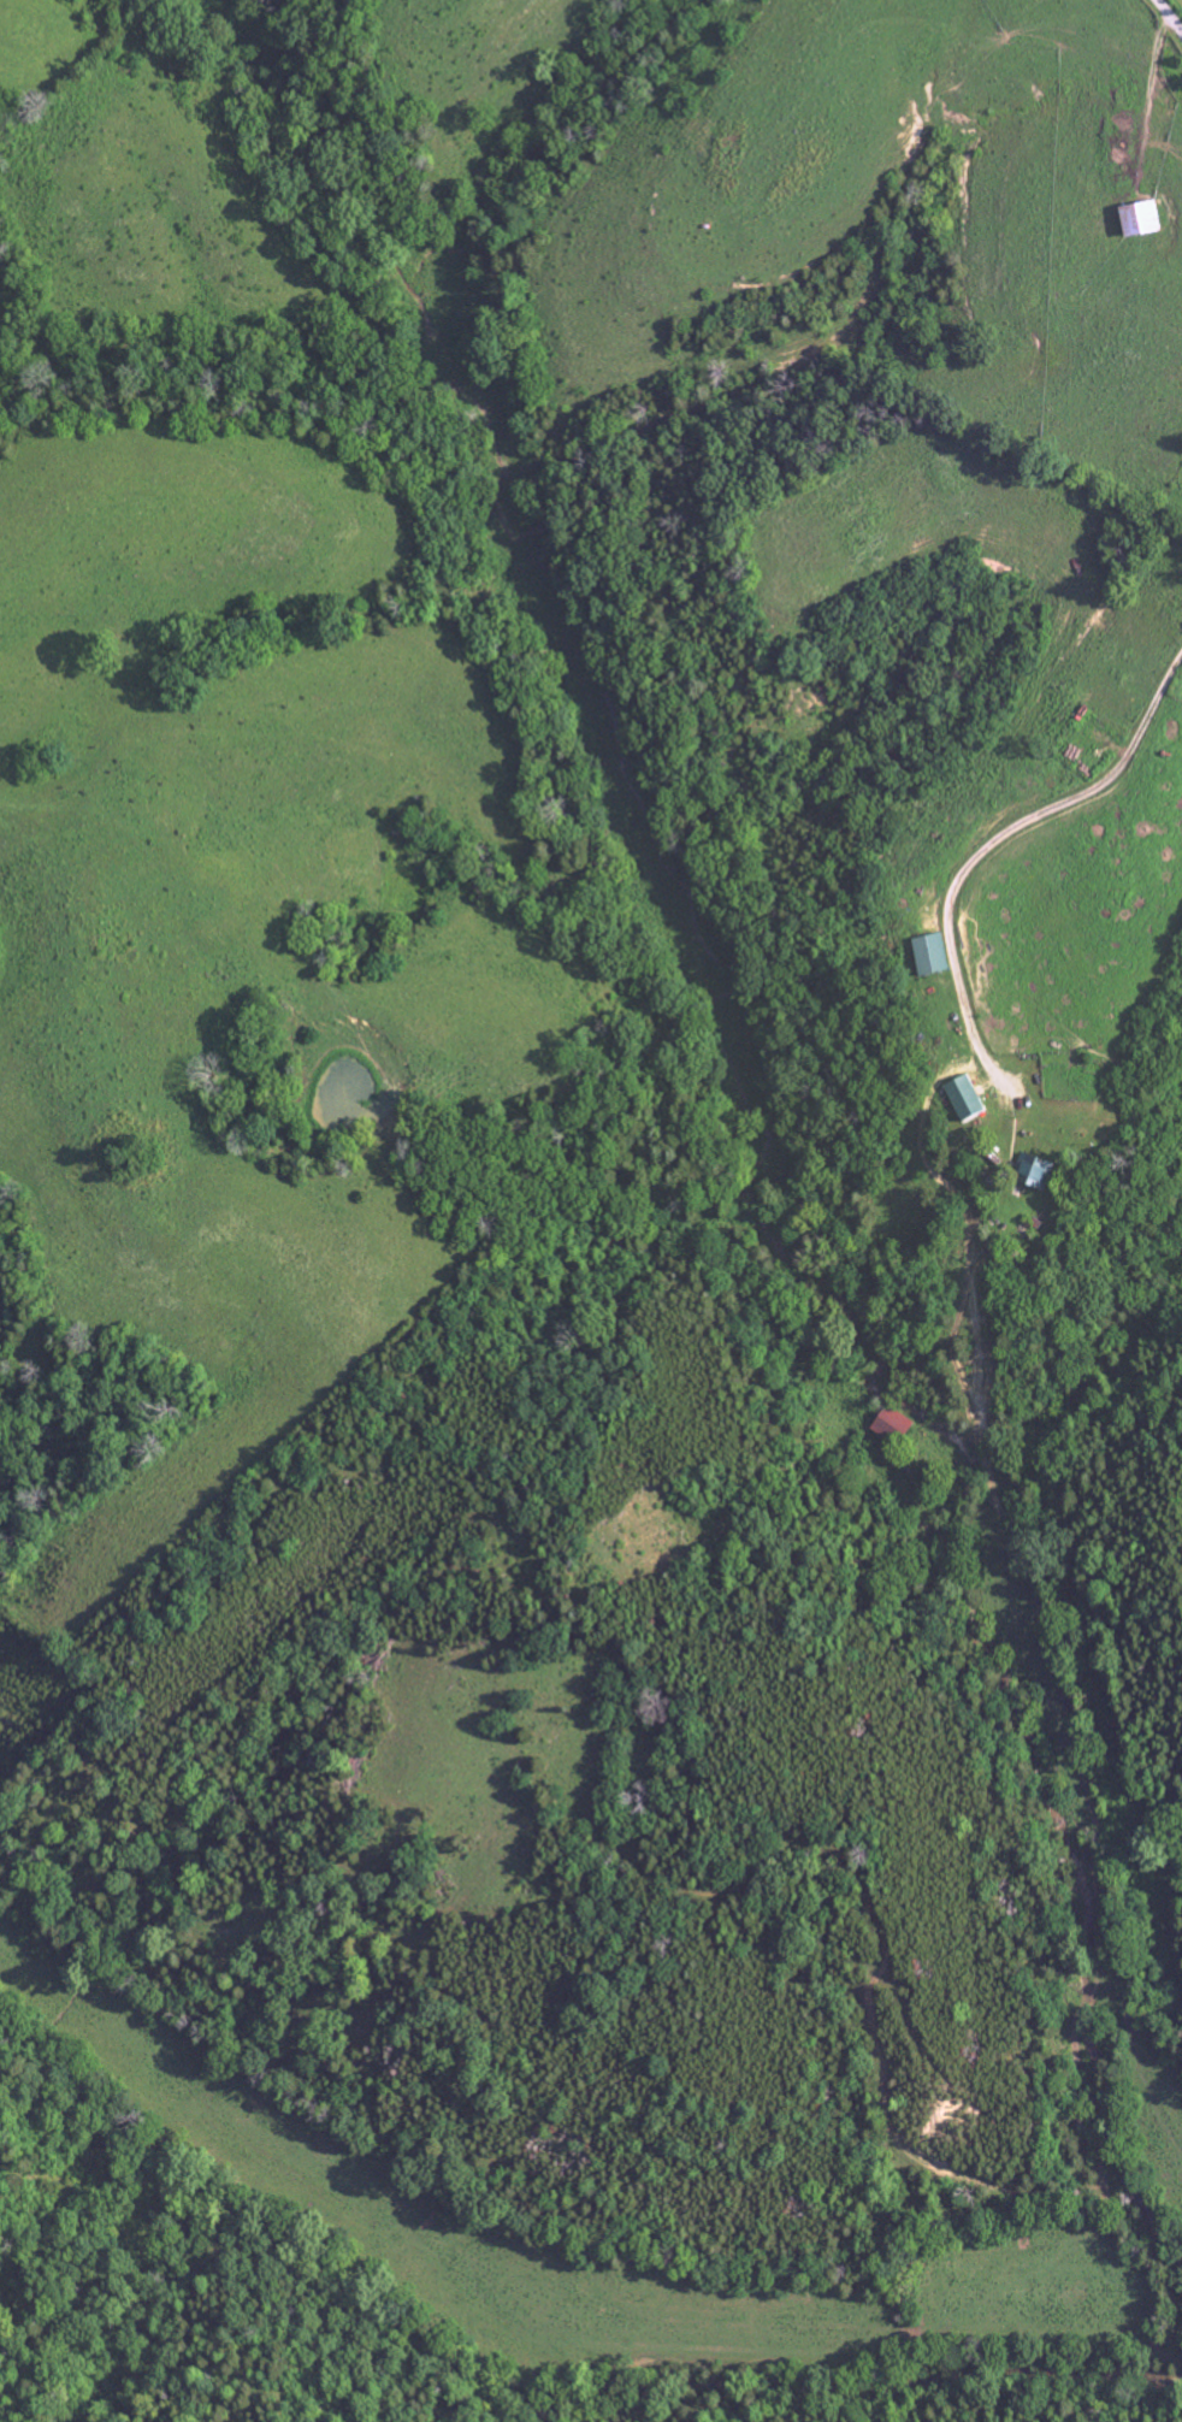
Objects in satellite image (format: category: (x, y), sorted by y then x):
road: (1170, 14)
building: (1136, 218)
road: (989, 846)
building: (928, 955)
building: (962, 1098)
building: (1033, 1172)
building: (893, 1425)

